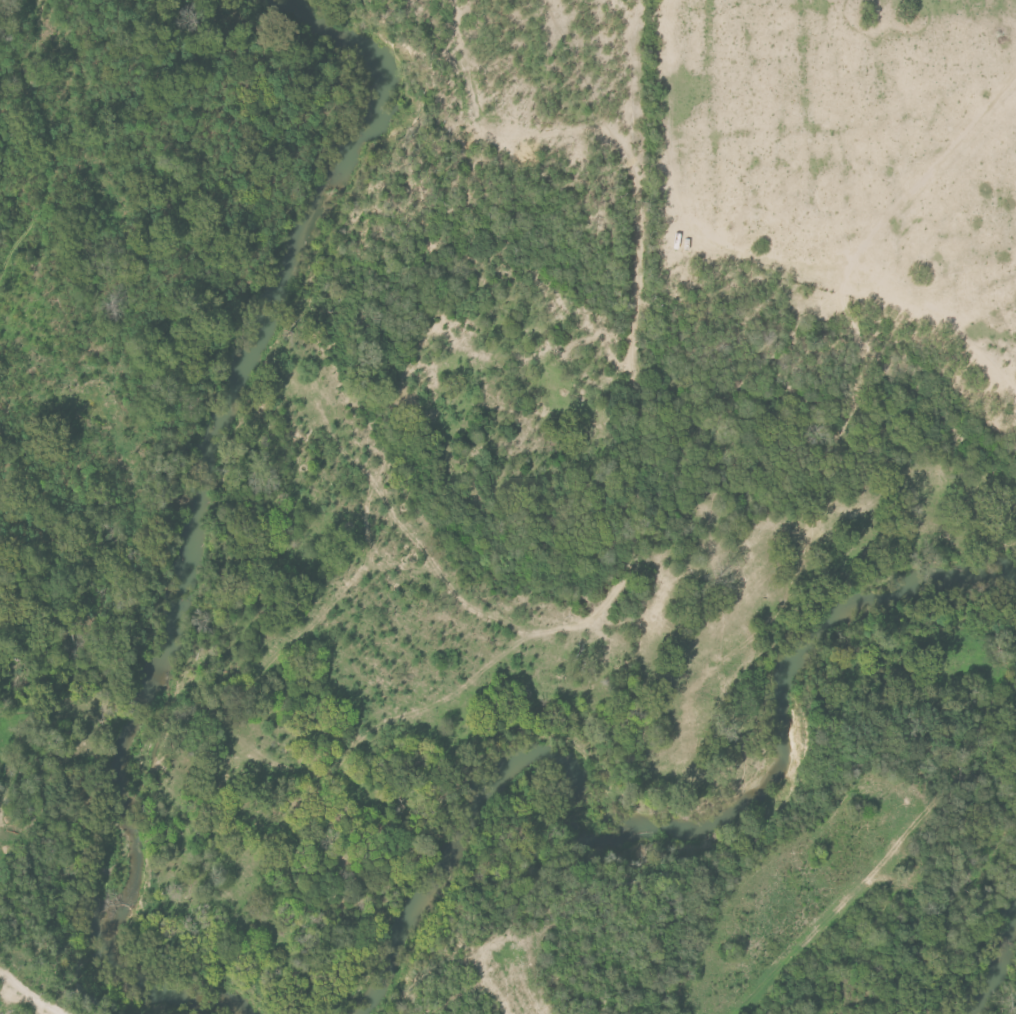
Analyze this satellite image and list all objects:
river: (220, 513)
river: (650, 837)
river: (987, 955)
road: (2, 973)
road: (42, 995)

